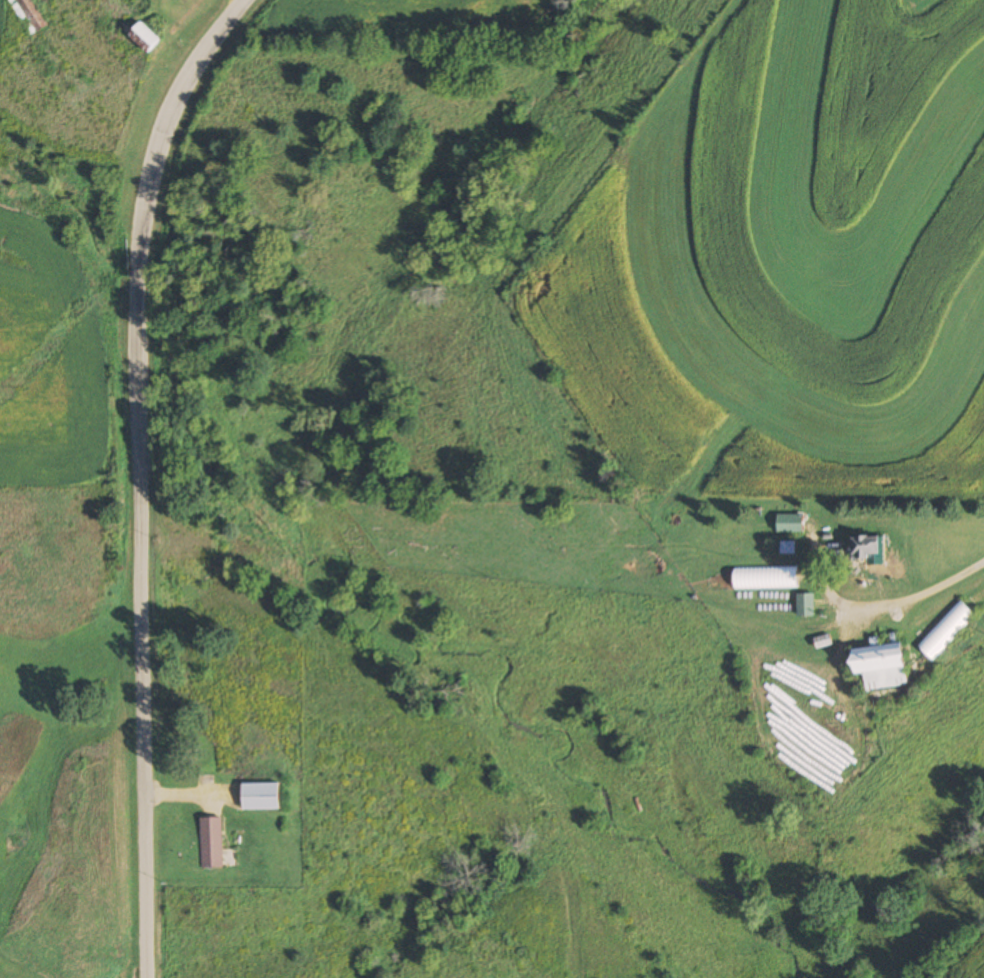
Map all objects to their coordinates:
building: (24, 15)
building: (143, 36)
road: (137, 475)
building: (789, 523)
building: (786, 546)
building: (867, 549)
building: (765, 578)
building: (804, 606)
road: (861, 618)
building: (946, 630)
building: (881, 666)
building: (261, 797)
building: (210, 842)

